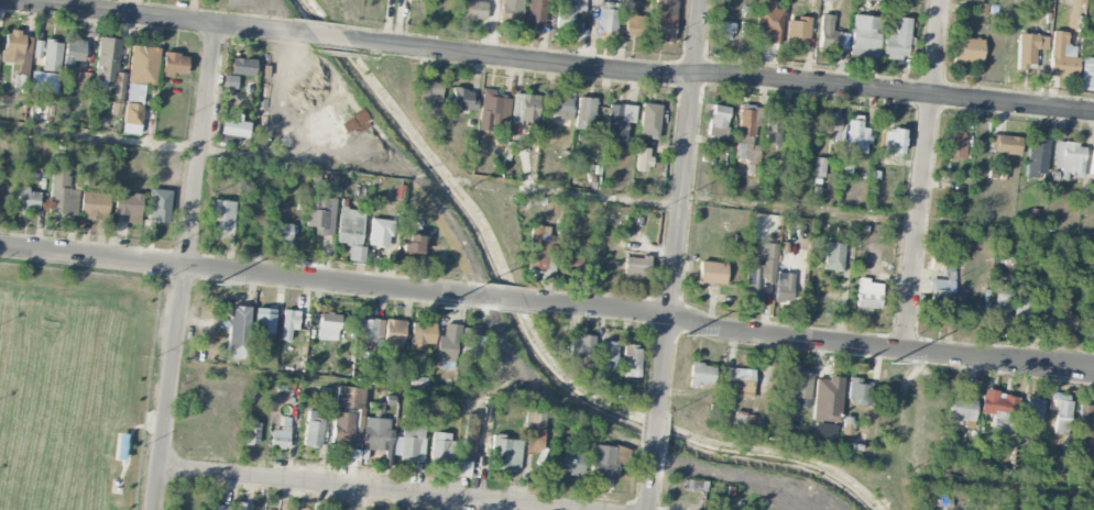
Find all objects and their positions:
building: (423, 0)
building: (1041, 0)
building: (510, 7)
building: (472, 10)
building: (534, 12)
building: (568, 12)
road: (146, 18)
building: (606, 20)
building: (664, 20)
building: (769, 21)
building: (633, 24)
building: (724, 30)
building: (797, 30)
building: (831, 35)
building: (864, 35)
road: (326, 36)
building: (897, 40)
building: (13, 46)
building: (1029, 48)
building: (1087, 48)
building: (74, 51)
building: (967, 51)
building: (51, 55)
building: (1061, 57)
building: (143, 65)
building: (173, 65)
building: (242, 66)
building: (109, 68)
road: (725, 78)
building: (84, 79)
building: (1086, 80)
building: (230, 81)
building: (132, 92)
building: (429, 92)
building: (462, 99)
building: (524, 108)
building: (560, 109)
building: (423, 110)
building: (493, 110)
building: (132, 113)
building: (584, 113)
building: (649, 120)
building: (719, 121)
building: (619, 124)
building: (801, 126)
building: (233, 127)
building: (830, 127)
building: (773, 129)
building: (746, 135)
building: (856, 135)
building: (228, 140)
building: (893, 143)
building: (954, 144)
building: (1004, 144)
road: (200, 146)
road: (205, 153)
building: (1037, 157)
building: (1068, 157)
building: (642, 159)
building: (1092, 162)
road: (925, 176)
building: (332, 186)
building: (62, 193)
building: (28, 199)
road: (679, 203)
building: (94, 206)
building: (129, 207)
road: (785, 208)
building: (321, 214)
building: (221, 218)
building: (282, 232)
building: (351, 232)
building: (382, 233)
building: (412, 245)
building: (540, 248)
building: (833, 256)
building: (942, 260)
building: (570, 264)
building: (636, 267)
building: (761, 270)
road: (238, 271)
building: (711, 273)
power tower: (216, 284)
building: (784, 290)
building: (868, 295)
road: (506, 299)
building: (940, 300)
power tower: (439, 307)
building: (997, 309)
building: (1043, 310)
building: (1021, 311)
building: (1063, 319)
building: (263, 320)
building: (1091, 323)
building: (288, 324)
building: (328, 324)
building: (370, 330)
building: (238, 332)
building: (393, 333)
power tower: (687, 334)
building: (420, 336)
road: (812, 341)
building: (469, 342)
building: (448, 343)
building: (580, 346)
building: (608, 352)
building: (632, 361)
power tower: (891, 362)
building: (701, 374)
building: (740, 380)
park: (74, 384)
road: (362, 384)
road: (169, 388)
building: (796, 390)
building: (858, 391)
building: (349, 398)
building: (961, 408)
building: (999, 410)
building: (1033, 411)
building: (1062, 418)
building: (742, 420)
building: (1084, 428)
building: (313, 430)
building: (342, 430)
building: (534, 430)
road: (654, 430)
building: (252, 433)
building: (376, 434)
building: (823, 434)
building: (281, 435)
building: (470, 436)
building: (412, 442)
building: (441, 446)
building: (505, 453)
building: (602, 461)
building: (571, 463)
building: (1082, 467)
building: (463, 468)
road: (648, 481)
road: (994, 485)
building: (696, 486)
road: (364, 489)
building: (219, 507)

